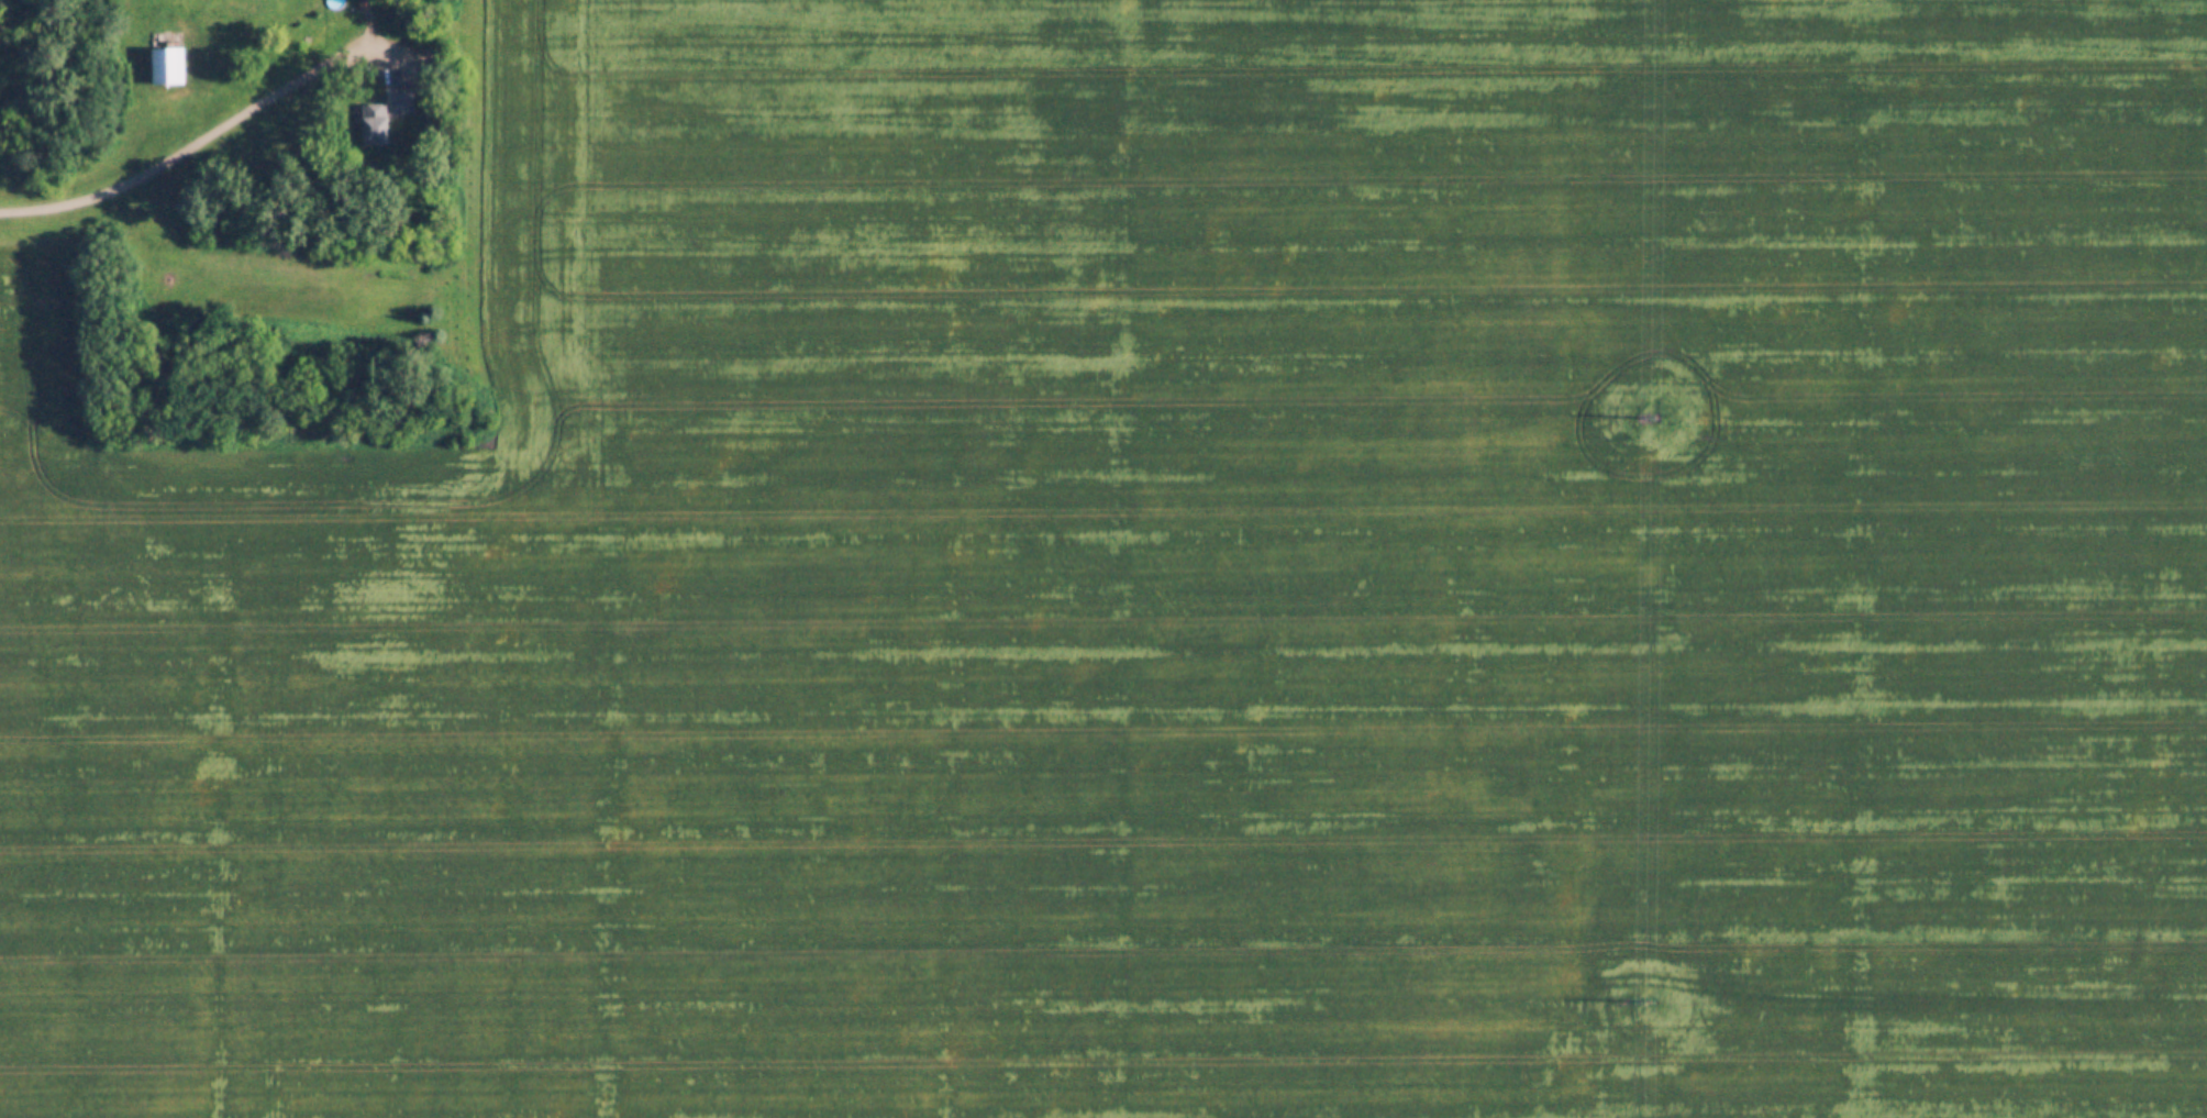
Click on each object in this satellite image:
building: (166, 65)
road: (228, 120)
power tower: (1650, 416)
power tower: (1641, 999)

